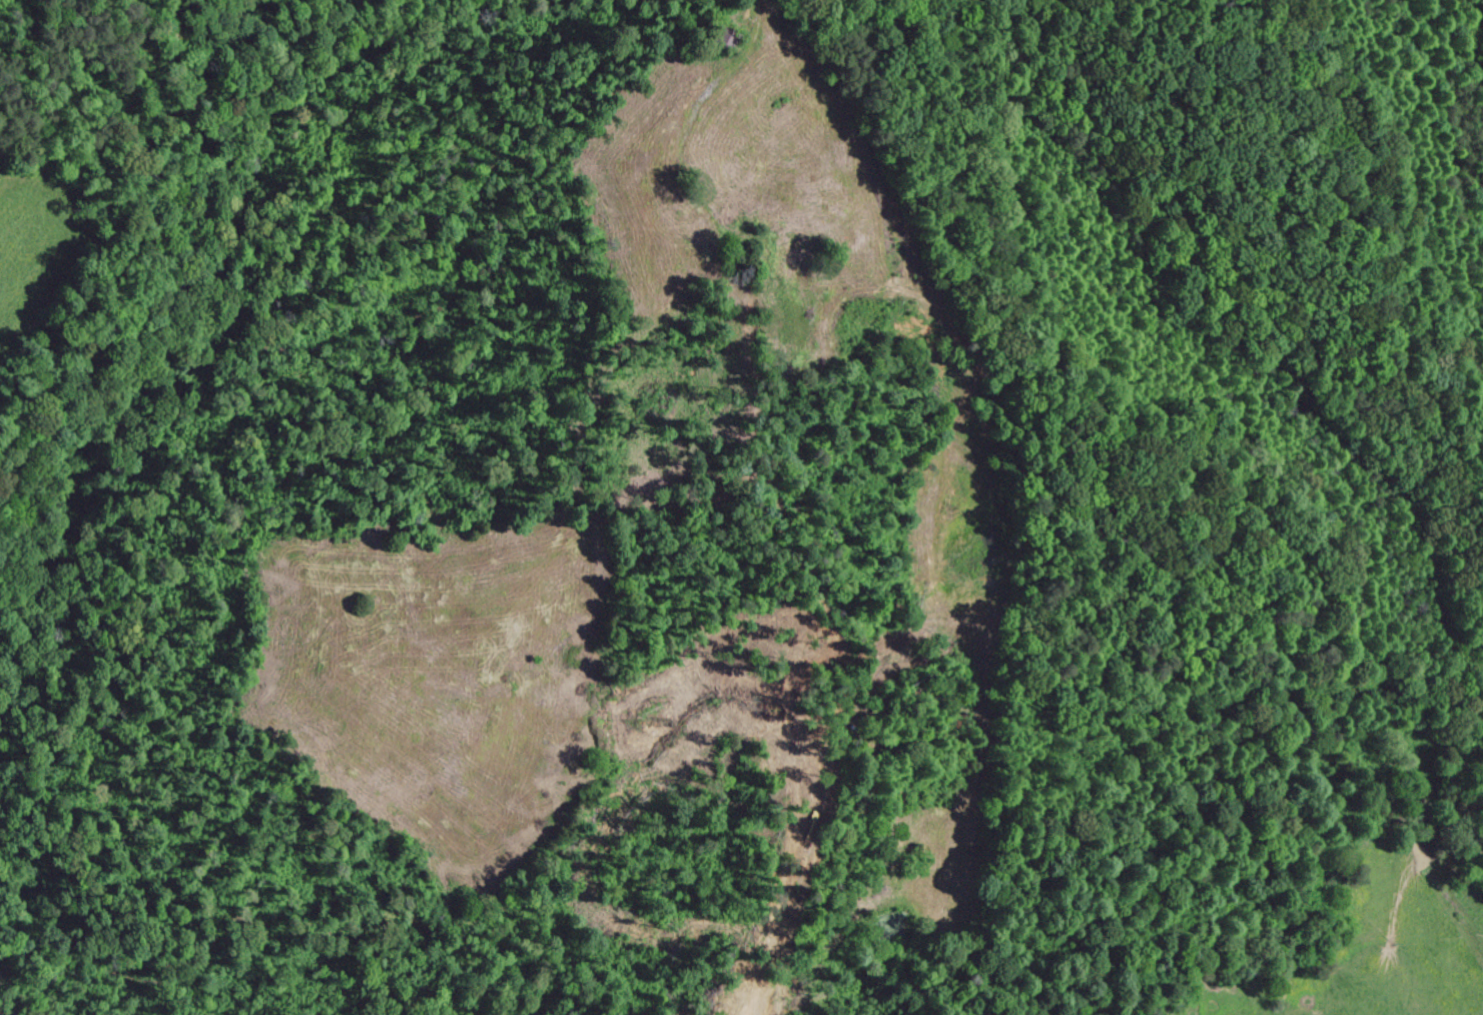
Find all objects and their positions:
road: (729, 125)

